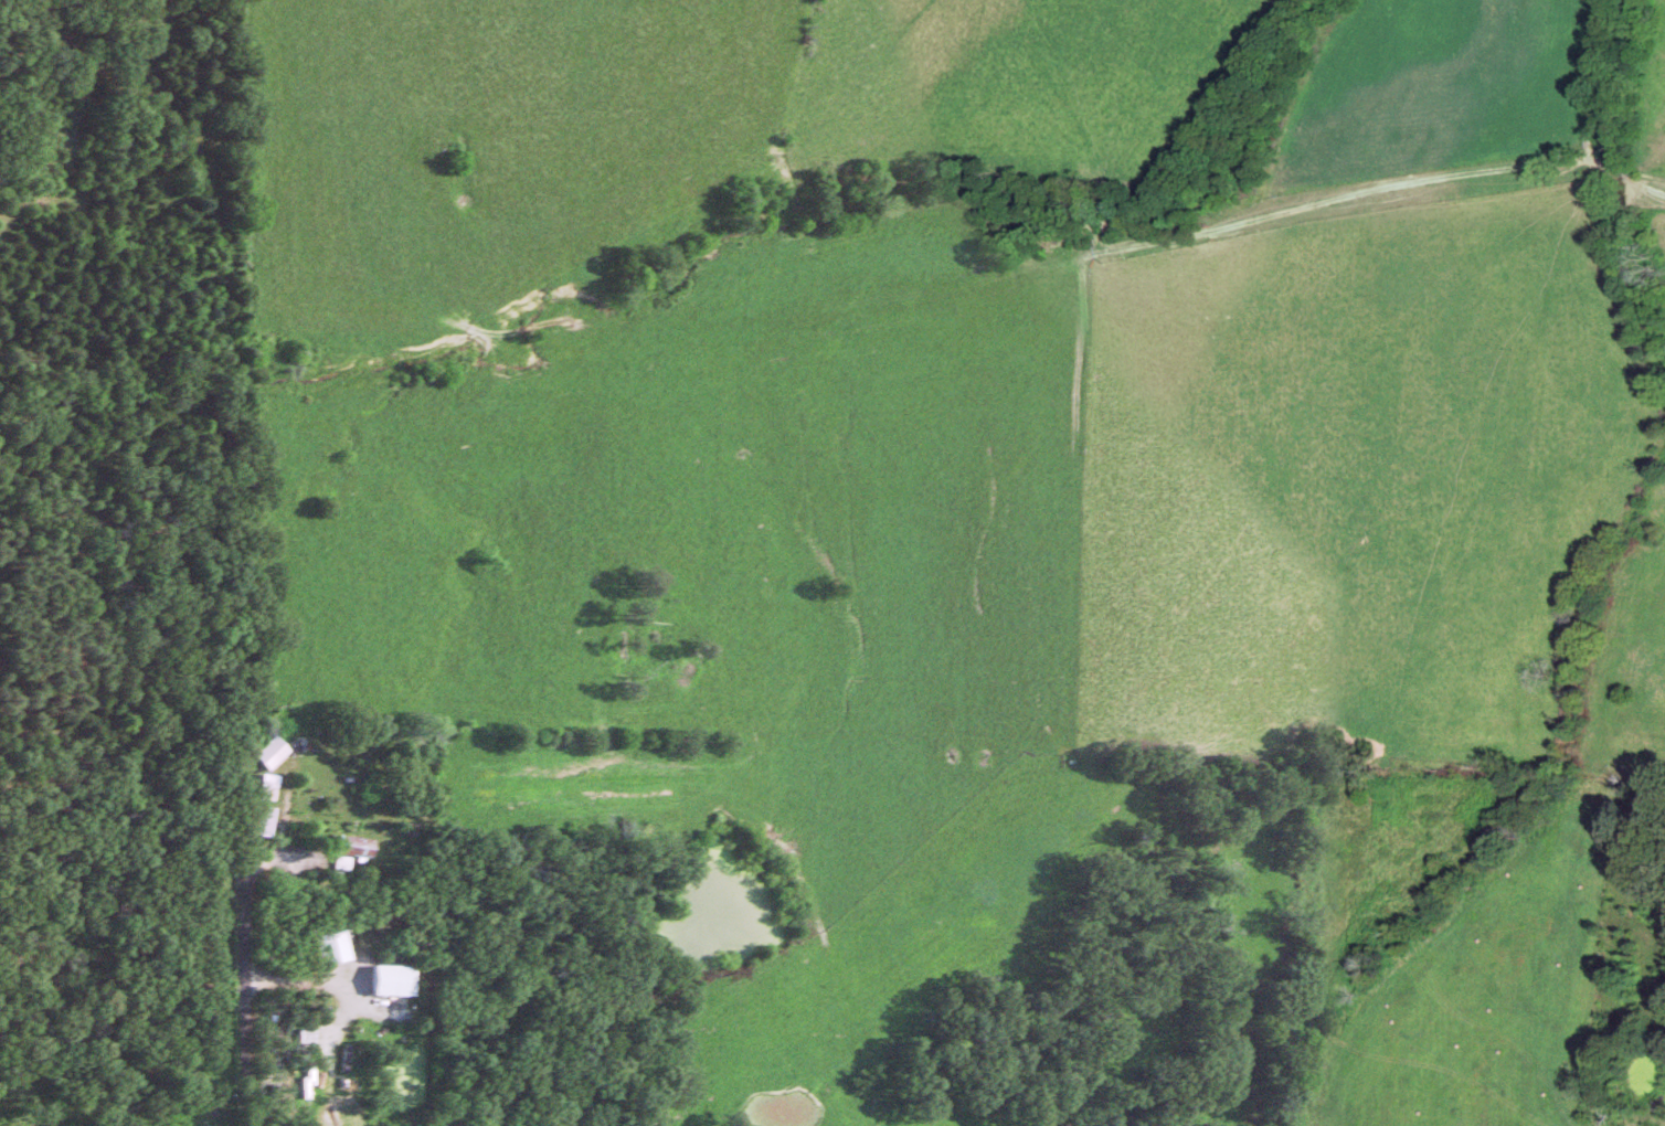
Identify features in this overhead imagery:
building: (277, 751)
building: (267, 819)
building: (356, 848)
road: (250, 935)
building: (338, 946)
building: (397, 979)

